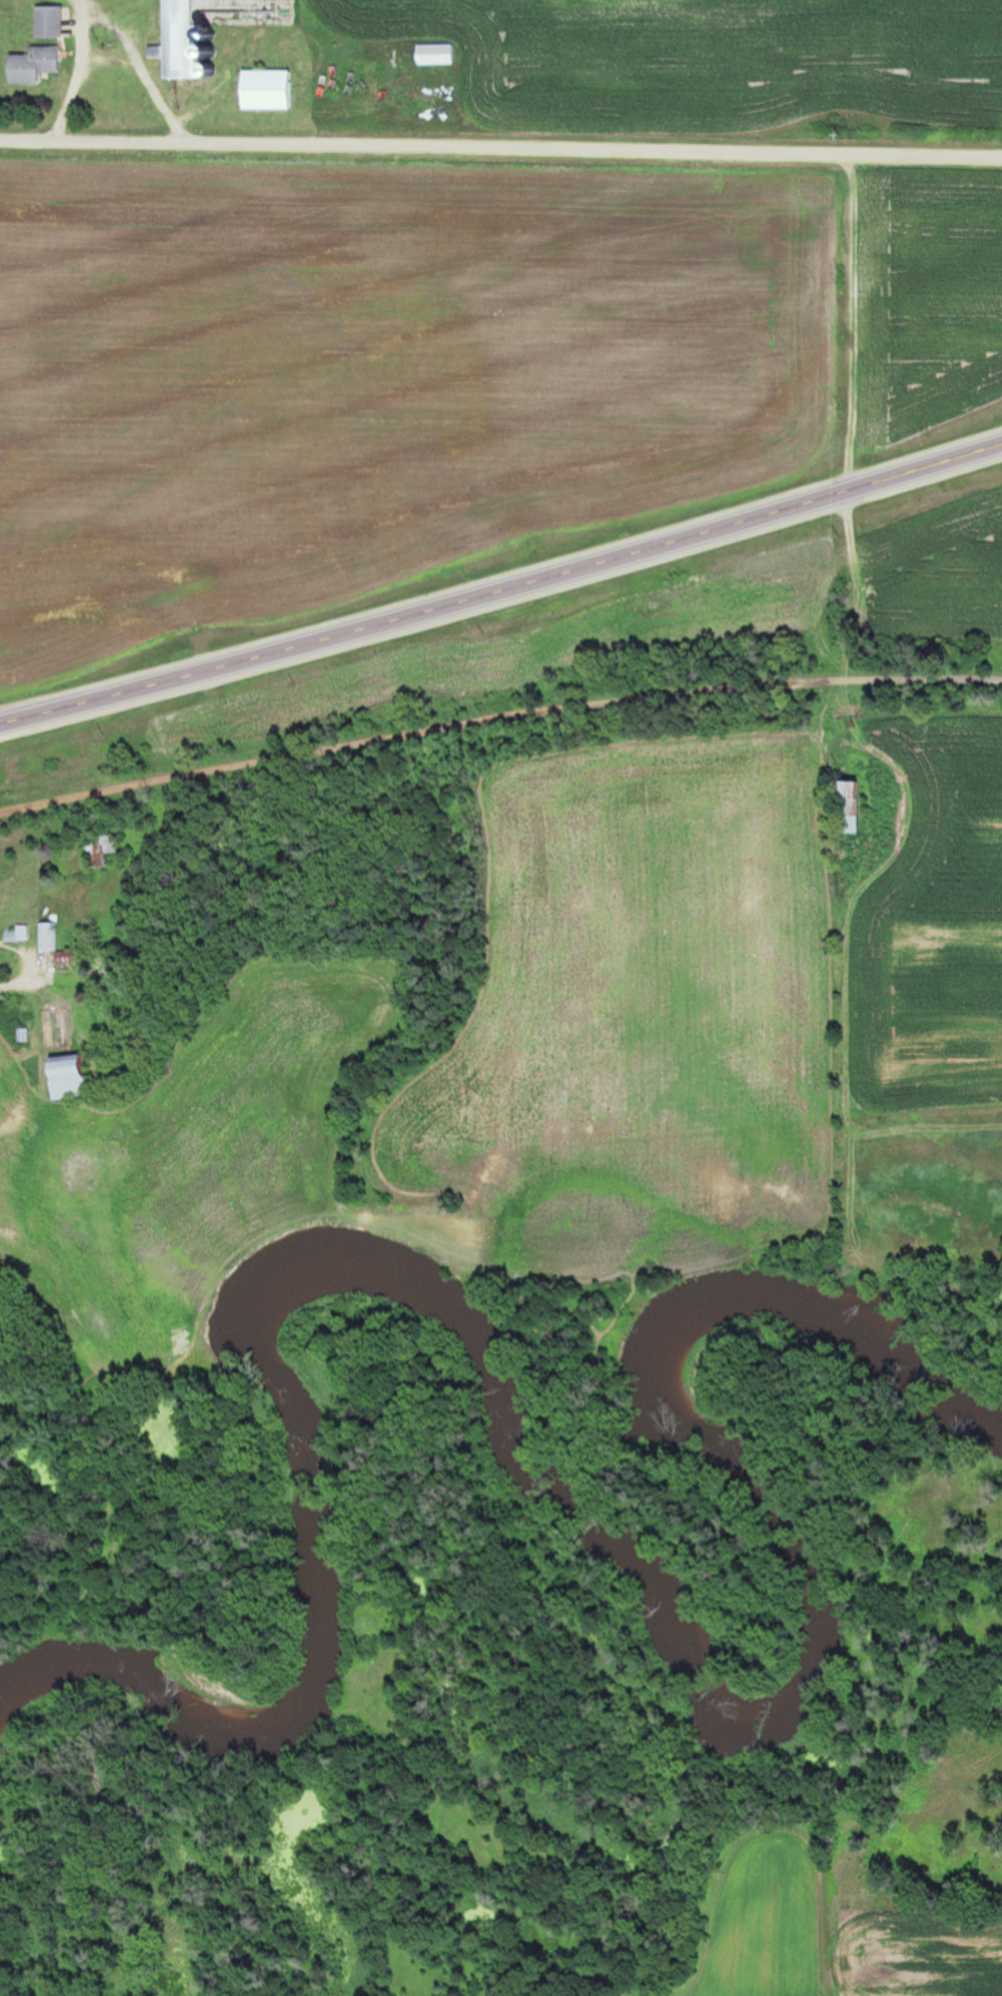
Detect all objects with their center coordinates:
building: (173, 12)
building: (44, 21)
building: (431, 55)
building: (27, 64)
building: (261, 89)
road: (501, 146)
road: (501, 577)
road: (497, 719)
building: (844, 806)
building: (97, 851)
building: (44, 937)
building: (61, 1078)
river: (752, 1345)
river: (325, 1426)
river: (828, 1607)
river: (775, 1681)

